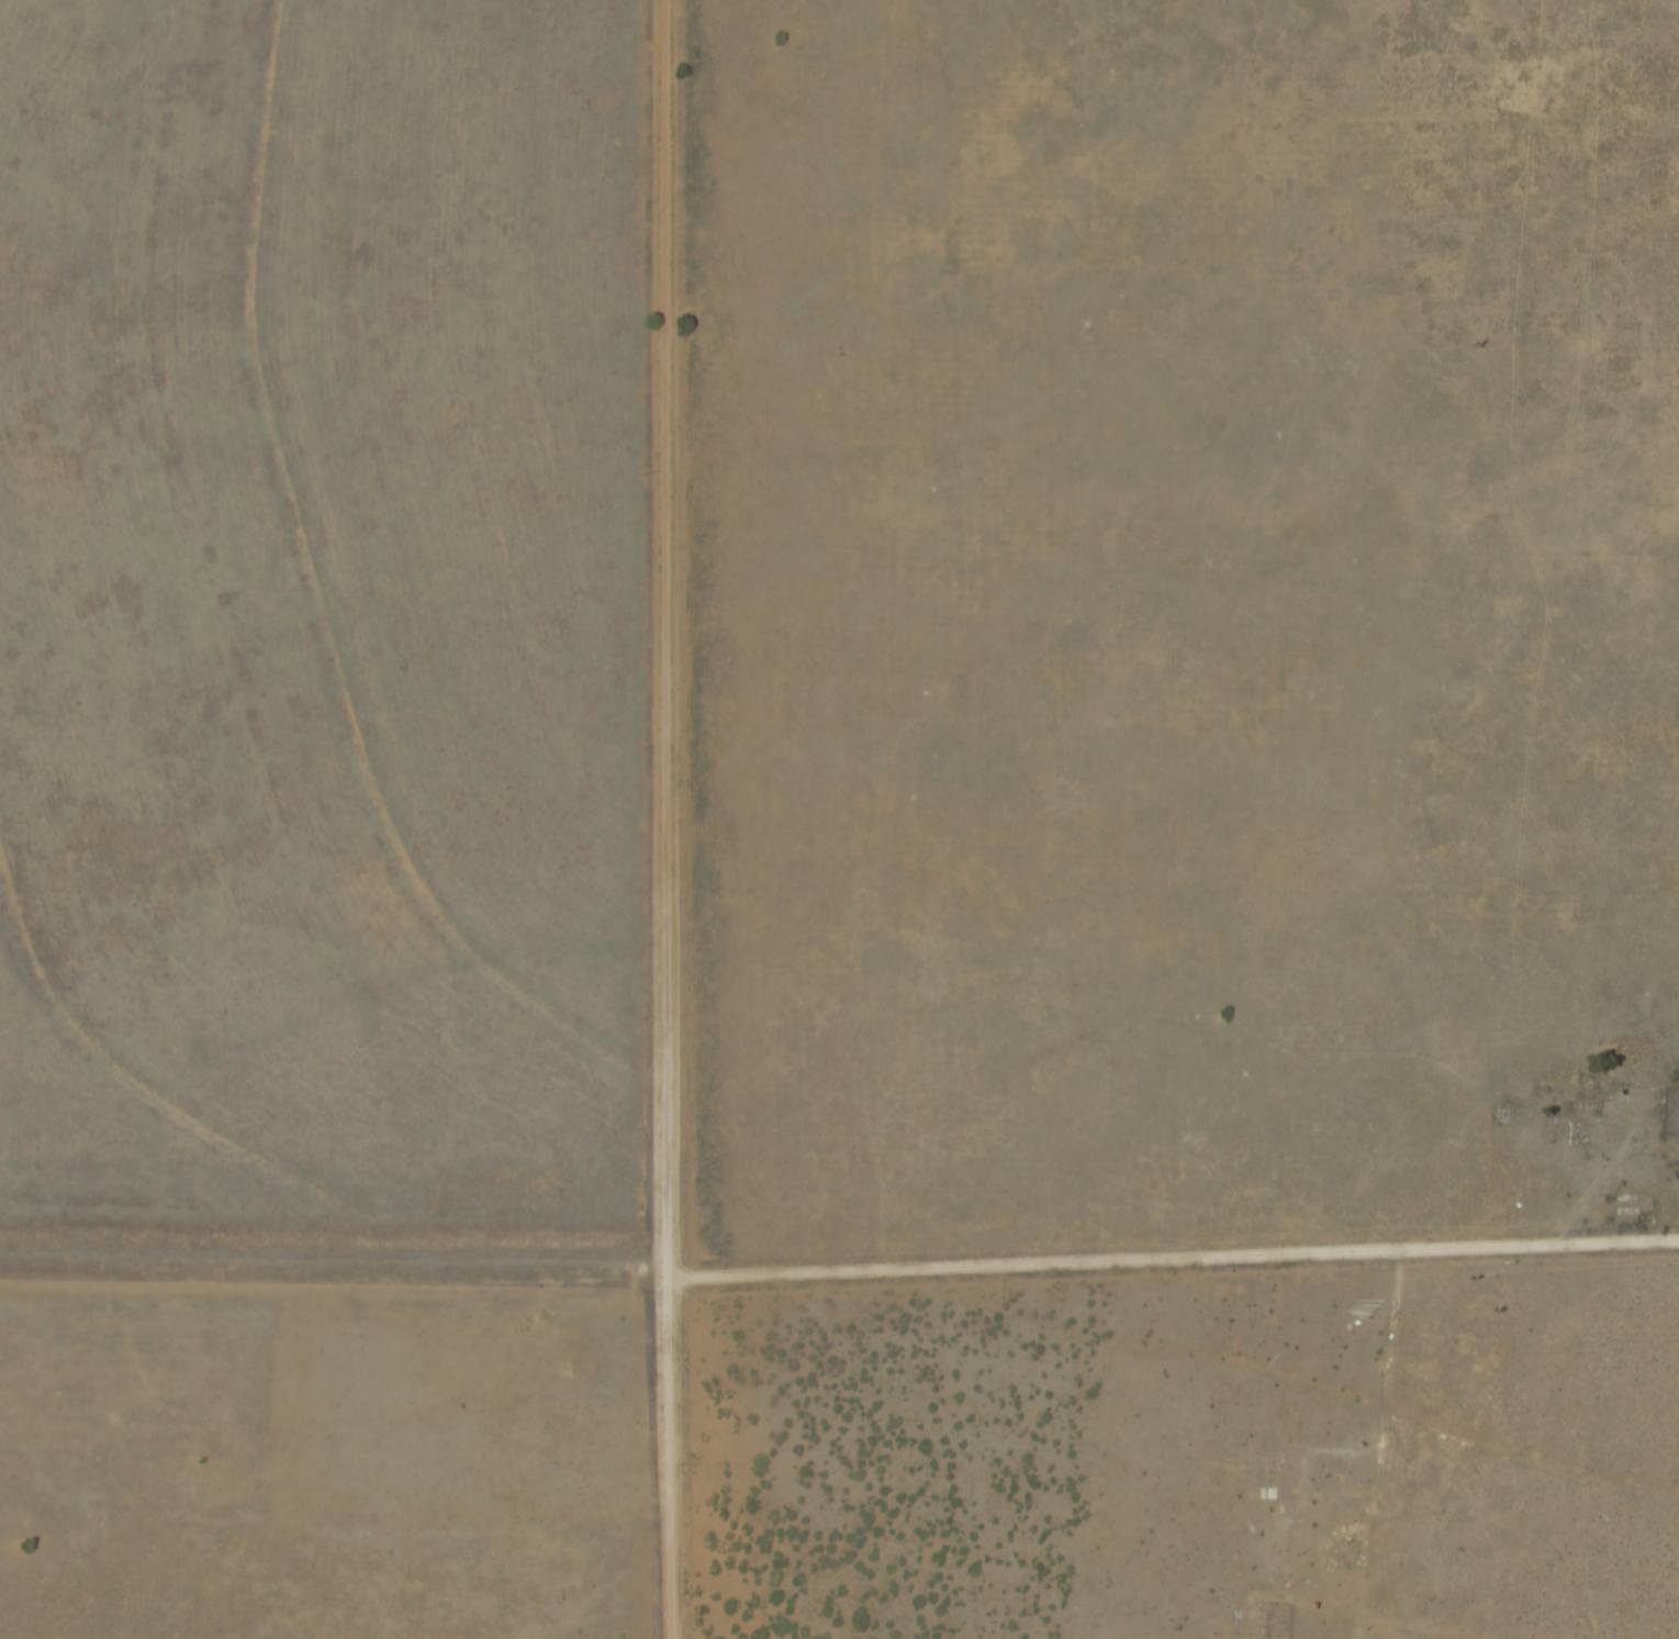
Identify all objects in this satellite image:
road: (665, 819)
road: (1173, 1267)

